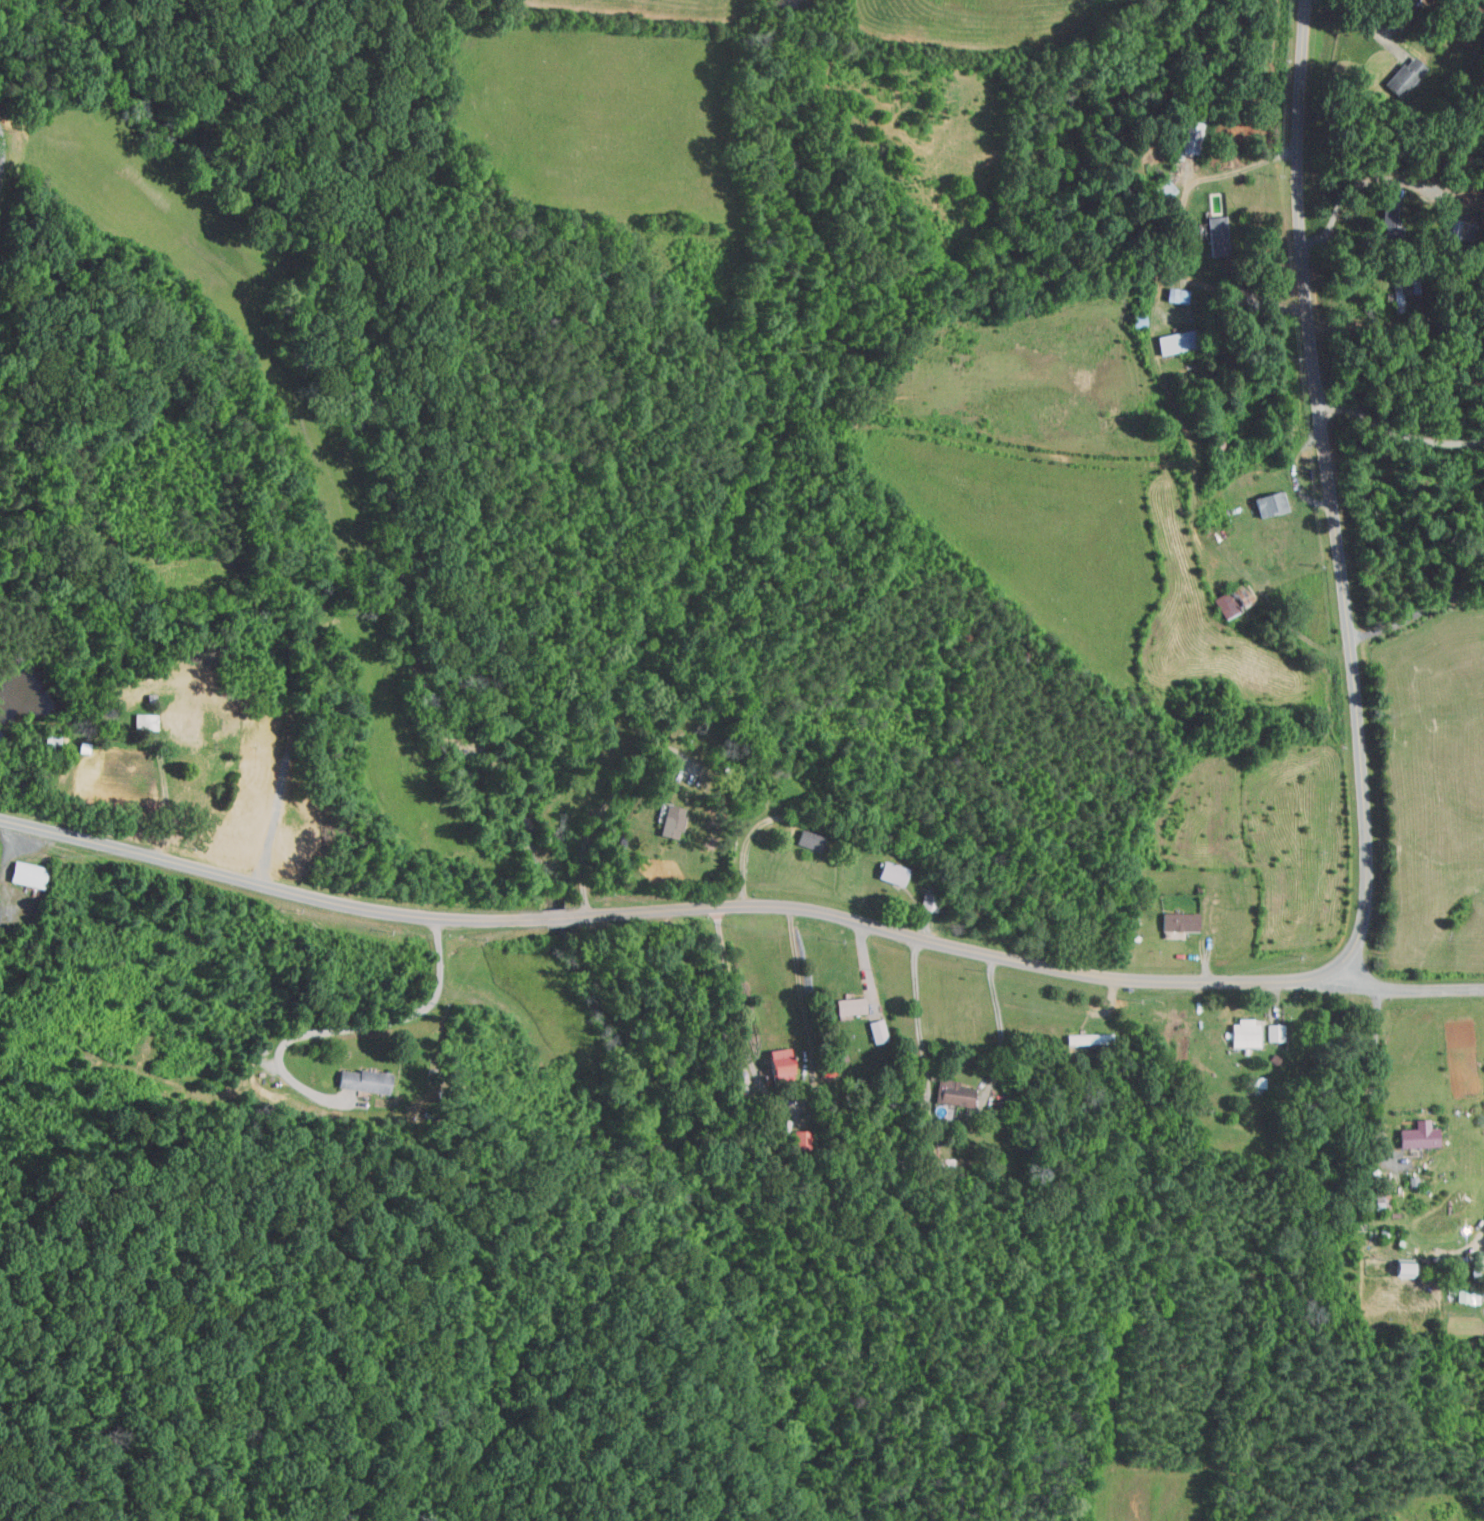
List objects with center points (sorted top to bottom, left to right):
road: (1413, 1)
road: (1360, 16)
building: (1404, 78)
building: (1188, 136)
road: (3, 143)
road: (1, 163)
building: (1391, 218)
building: (1456, 229)
road: (1179, 235)
building: (1217, 236)
building: (1398, 293)
building: (1176, 295)
building: (1138, 320)
building: (1176, 341)
road: (1396, 434)
building: (1269, 503)
building: (1483, 525)
road: (1461, 545)
road: (1462, 596)
building: (1231, 601)
road: (1396, 624)
building: (144, 721)
building: (181, 723)
building: (52, 739)
road: (163, 774)
road: (602, 810)
building: (670, 821)
building: (810, 840)
road: (744, 843)
building: (890, 873)
building: (24, 874)
road: (1364, 875)
road: (267, 886)
road: (554, 918)
building: (1178, 922)
road: (1403, 989)
building: (848, 1006)
road: (357, 1027)
building: (876, 1031)
building: (1273, 1033)
building: (1242, 1034)
building: (1088, 1039)
building: (777, 1065)
building: (361, 1081)
building: (1256, 1082)
building: (951, 1094)
road: (786, 1104)
road: (947, 1127)
building: (1416, 1138)
building: (799, 1140)
road: (1390, 1151)
building: (1380, 1194)
building: (1401, 1270)
building: (1463, 1296)

